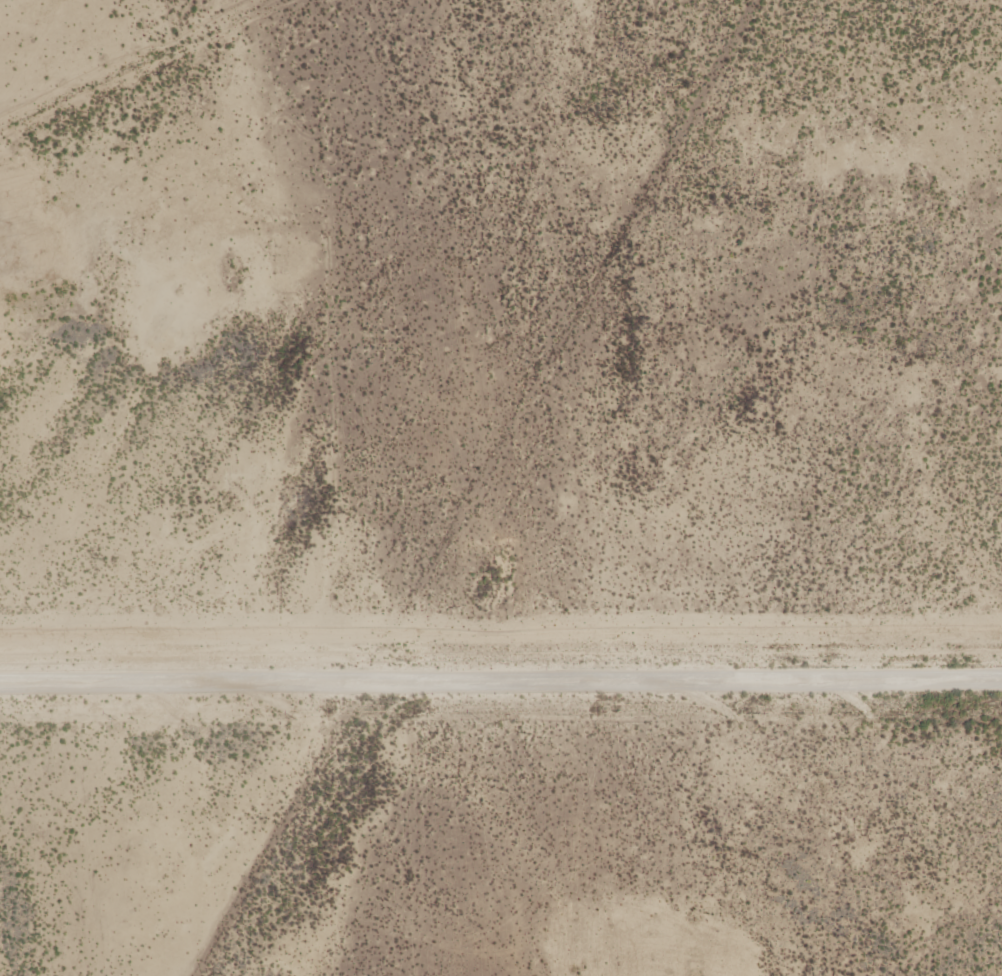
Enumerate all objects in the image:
road: (471, 483)
road: (500, 679)

